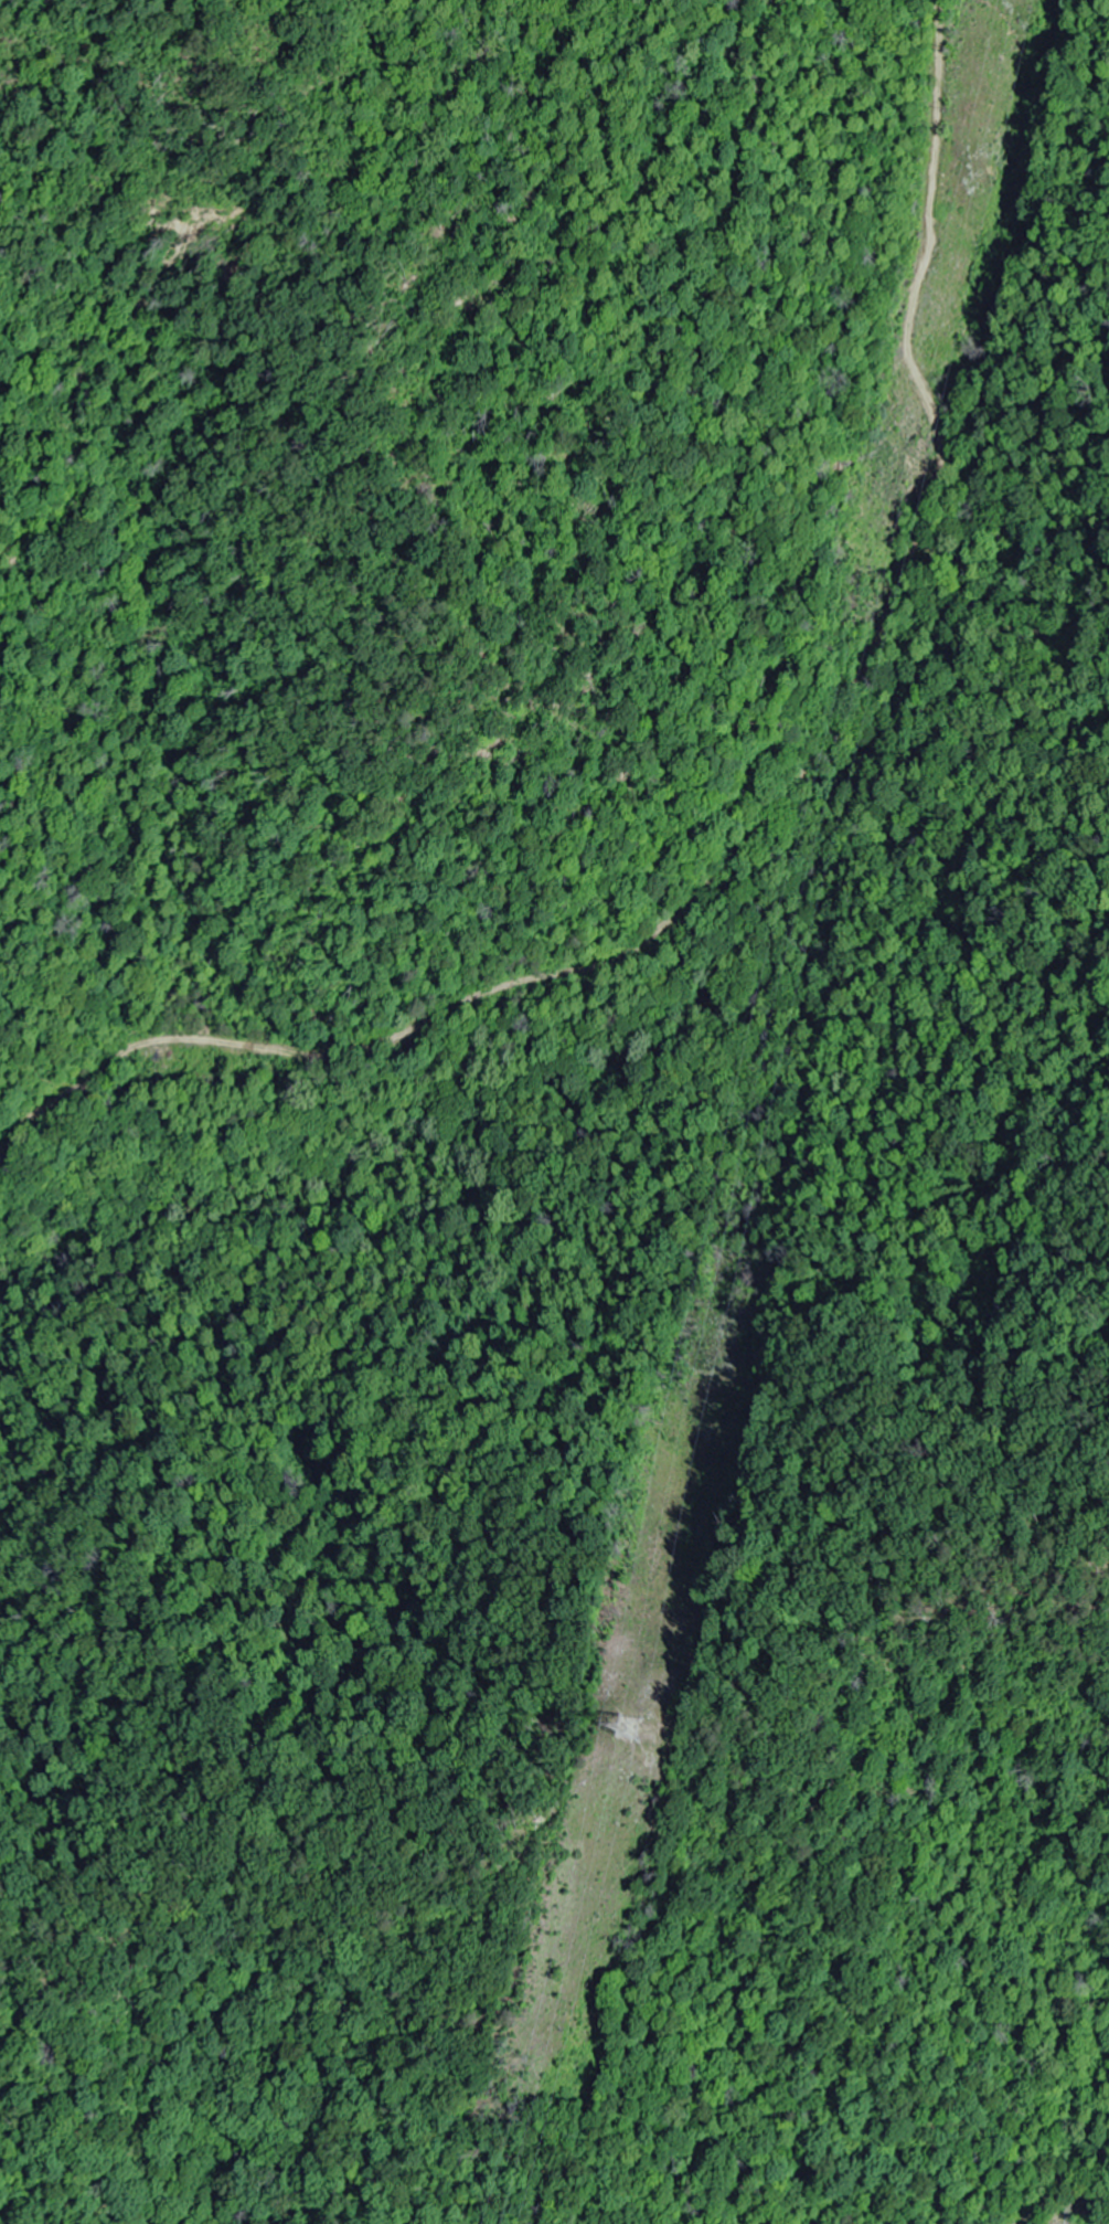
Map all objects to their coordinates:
power tower: (621, 1728)

